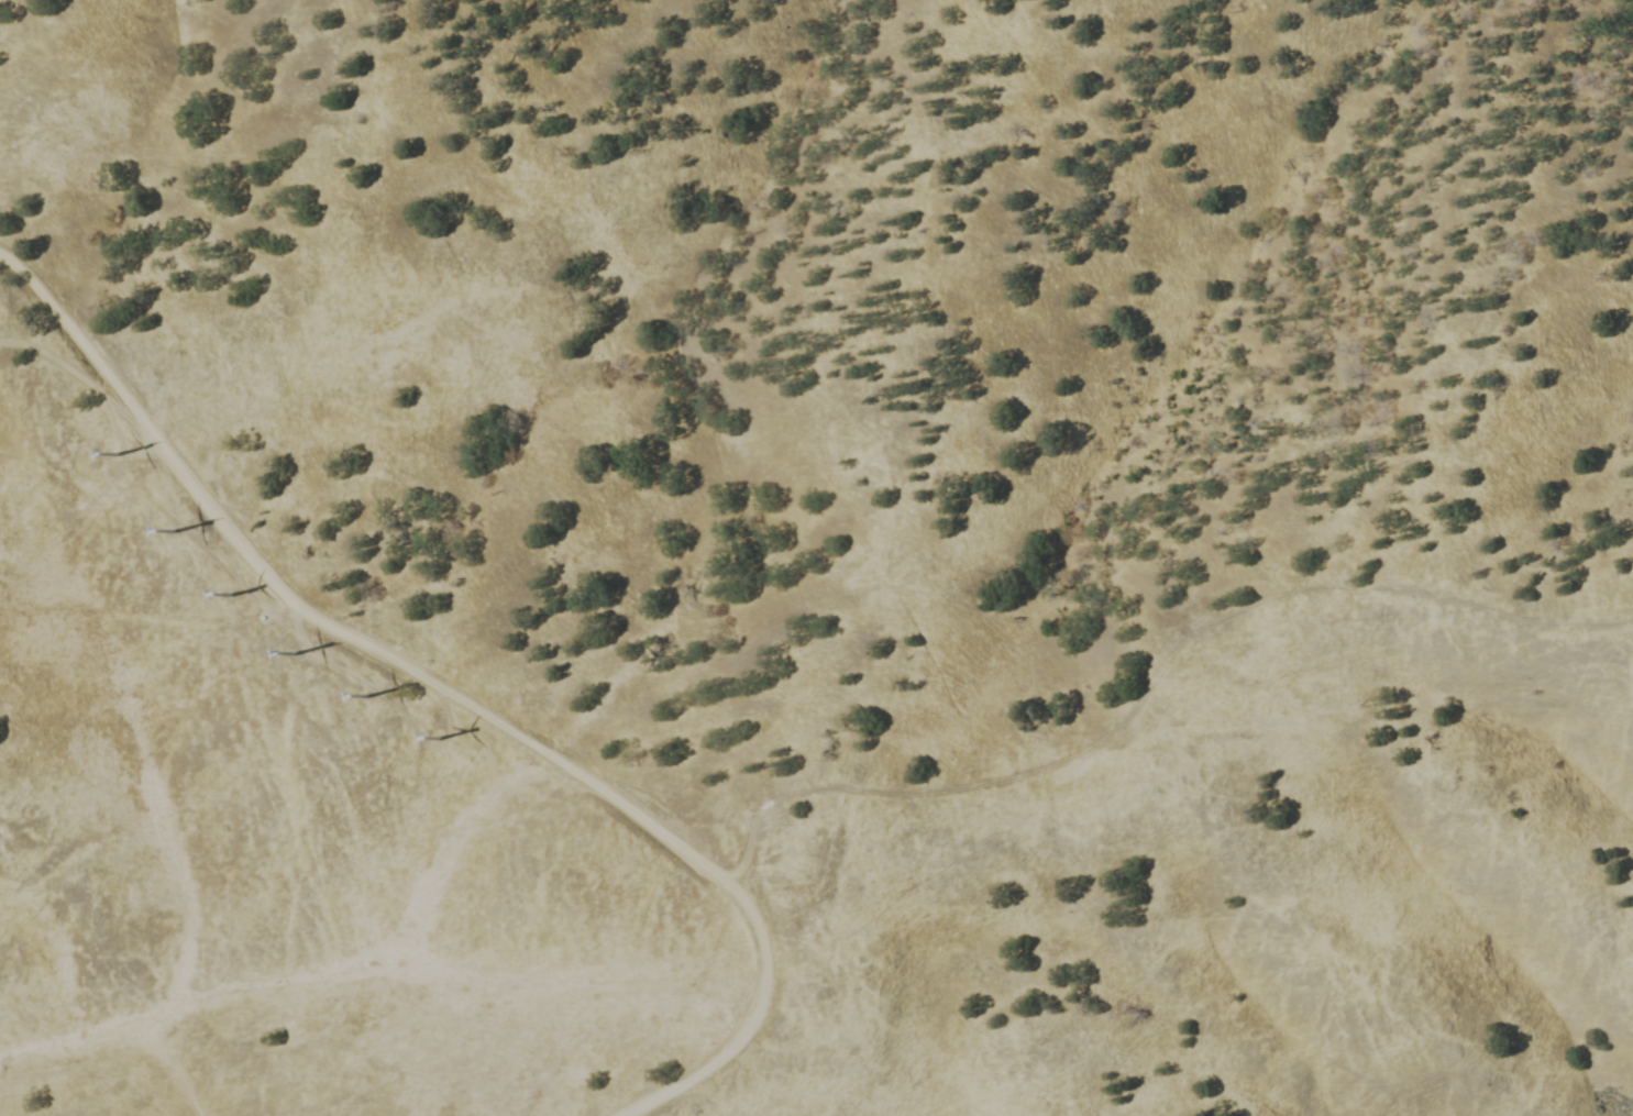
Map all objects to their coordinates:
road: (82, 376)
wind turbine: (118, 455)
wind turbine: (179, 528)
wind turbine: (245, 598)
road: (295, 620)
road: (332, 628)
wind turbine: (302, 658)
road: (377, 692)
wind turbine: (382, 699)
wind turbine: (454, 745)
road: (741, 1039)

